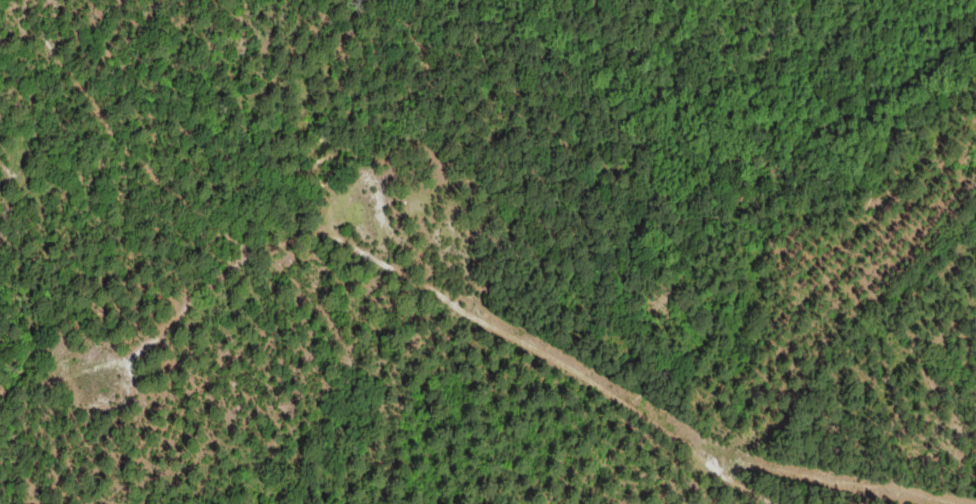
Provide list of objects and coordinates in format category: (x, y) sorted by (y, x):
road: (120, 141)
road: (368, 257)
road: (748, 490)

